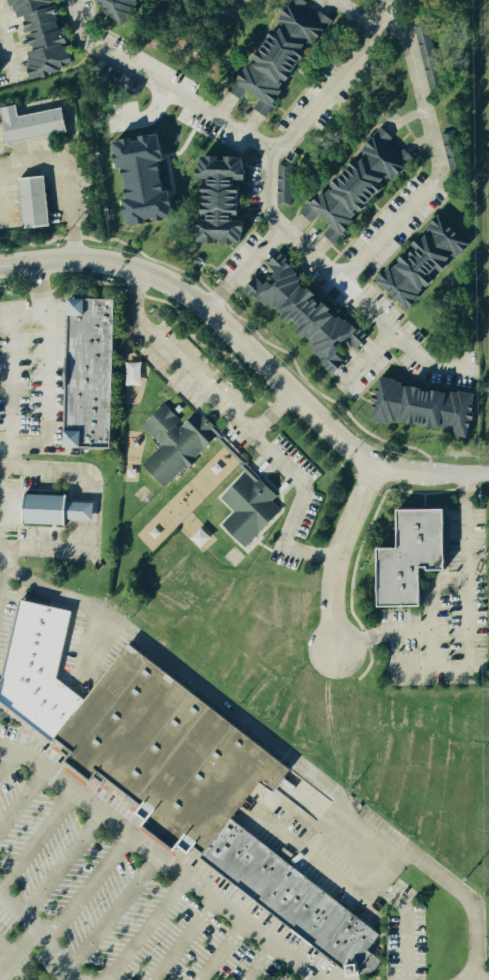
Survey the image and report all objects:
building: (127, 8)
building: (49, 37)
building: (287, 57)
building: (431, 57)
road: (6, 58)
road: (333, 83)
road: (62, 106)
road: (147, 119)
building: (28, 125)
road: (427, 137)
building: (455, 151)
building: (153, 180)
road: (67, 181)
building: (287, 185)
building: (364, 187)
road: (265, 189)
building: (231, 201)
building: (29, 205)
road: (35, 210)
building: (430, 264)
road: (242, 269)
building: (311, 312)
road: (5, 327)
road: (250, 355)
road: (367, 362)
building: (85, 375)
building: (136, 375)
road: (46, 379)
road: (10, 388)
building: (430, 409)
road: (272, 416)
road: (243, 426)
building: (179, 444)
building: (252, 509)
building: (44, 510)
road: (339, 553)
building: (409, 555)
road: (1, 574)
road: (431, 590)
road: (469, 656)
road: (271, 746)
building: (162, 754)
road: (7, 763)
road: (23, 802)
road: (36, 840)
road: (161, 860)
road: (61, 865)
road: (334, 874)
road: (87, 888)
building: (285, 897)
road: (113, 913)
road: (404, 927)
road: (145, 929)
road: (41, 935)
road: (182, 940)
road: (7, 948)
road: (17, 950)
road: (222, 952)
road: (259, 962)
road: (469, 979)

